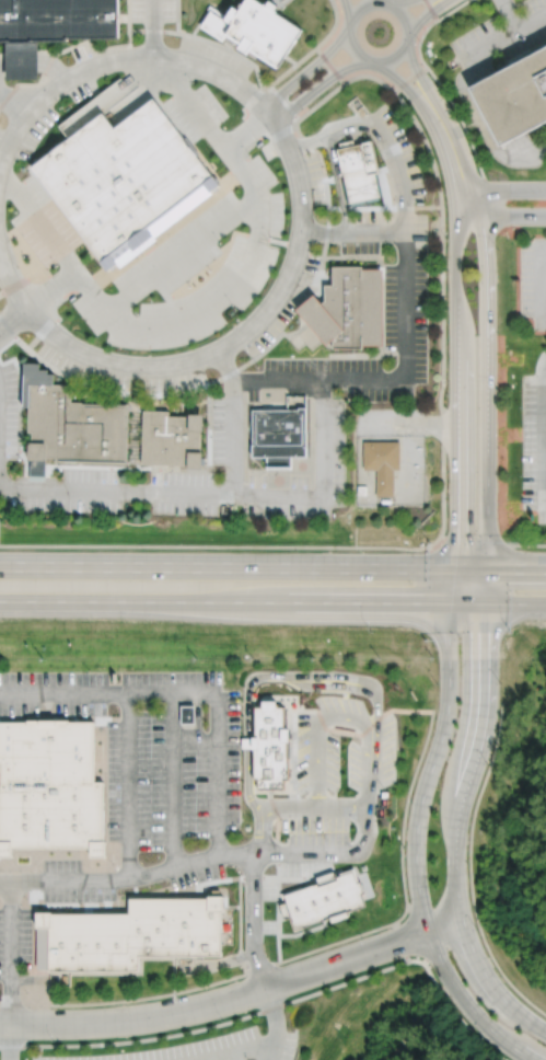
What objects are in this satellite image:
road: (382, 1)
road: (398, 1)
road: (365, 5)
road: (347, 9)
road: (400, 12)
road: (509, 13)
road: (427, 14)
road: (127, 15)
road: (176, 16)
building: (58, 19)
road: (350, 24)
road: (152, 30)
building: (252, 31)
road: (507, 31)
road: (174, 32)
parking lot: (503, 32)
road: (409, 35)
road: (352, 47)
building: (21, 58)
road: (396, 58)
road: (37, 61)
road: (372, 62)
road: (329, 65)
road: (307, 71)
road: (417, 76)
road: (221, 78)
road: (410, 79)
road: (440, 84)
road: (405, 85)
road: (317, 89)
road: (57, 91)
building: (518, 99)
road: (283, 101)
road: (502, 102)
road: (15, 105)
road: (492, 114)
road: (479, 115)
road: (247, 131)
road: (452, 146)
road: (538, 149)
road: (333, 158)
road: (434, 168)
building: (358, 170)
building: (124, 177)
road: (334, 177)
road: (504, 189)
road: (377, 206)
parking lot: (301, 214)
road: (502, 216)
road: (355, 230)
road: (256, 237)
road: (277, 241)
road: (51, 243)
road: (298, 249)
road: (212, 266)
road: (117, 269)
road: (156, 272)
road: (541, 278)
road: (9, 279)
parking lot: (534, 281)
road: (82, 283)
road: (407, 287)
road: (50, 290)
road: (57, 301)
road: (209, 307)
building: (346, 308)
road: (11, 310)
road: (16, 329)
road: (12, 333)
road: (43, 333)
road: (237, 341)
road: (8, 344)
road: (263, 350)
road: (487, 376)
road: (461, 379)
road: (73, 380)
parking lot: (292, 384)
road: (136, 394)
parking lot: (8, 412)
road: (233, 422)
building: (74, 426)
road: (545, 431)
building: (279, 436)
building: (172, 439)
parking lot: (534, 445)
building: (36, 460)
building: (382, 463)
building: (361, 491)
road: (219, 493)
road: (7, 505)
road: (528, 544)
road: (258, 545)
road: (272, 568)
traffic signals: (457, 568)
traffic signals: (488, 568)
road: (272, 601)
traffic signals: (452, 603)
traffic signals: (488, 604)
road: (327, 678)
street lamp: (500, 682)
street lamp: (437, 683)
road: (248, 690)
road: (189, 692)
road: (47, 710)
road: (292, 712)
building: (186, 713)
road: (177, 715)
road: (197, 715)
road: (344, 717)
road: (320, 719)
road: (375, 722)
road: (342, 731)
road: (193, 739)
building: (269, 745)
parking lot: (150, 746)
street lamp: (487, 763)
road: (292, 777)
road: (171, 780)
building: (49, 784)
road: (129, 785)
road: (105, 799)
road: (272, 806)
road: (458, 814)
road: (365, 819)
road: (276, 829)
road: (416, 832)
street lamp: (403, 845)
road: (275, 852)
road: (33, 860)
road: (191, 861)
road: (468, 868)
road: (252, 877)
road: (269, 877)
road: (33, 880)
parking lot: (84, 894)
road: (33, 895)
building: (320, 899)
road: (0, 900)
road: (10, 900)
road: (28, 900)
road: (95, 905)
road: (277, 911)
street lamp: (476, 927)
building: (131, 932)
street lamp: (360, 936)
road: (398, 942)
road: (324, 945)
road: (8, 953)
road: (235, 995)
road: (277, 1005)
road: (275, 1023)
road: (8, 1041)
parking lot: (213, 1048)
road: (237, 1050)

